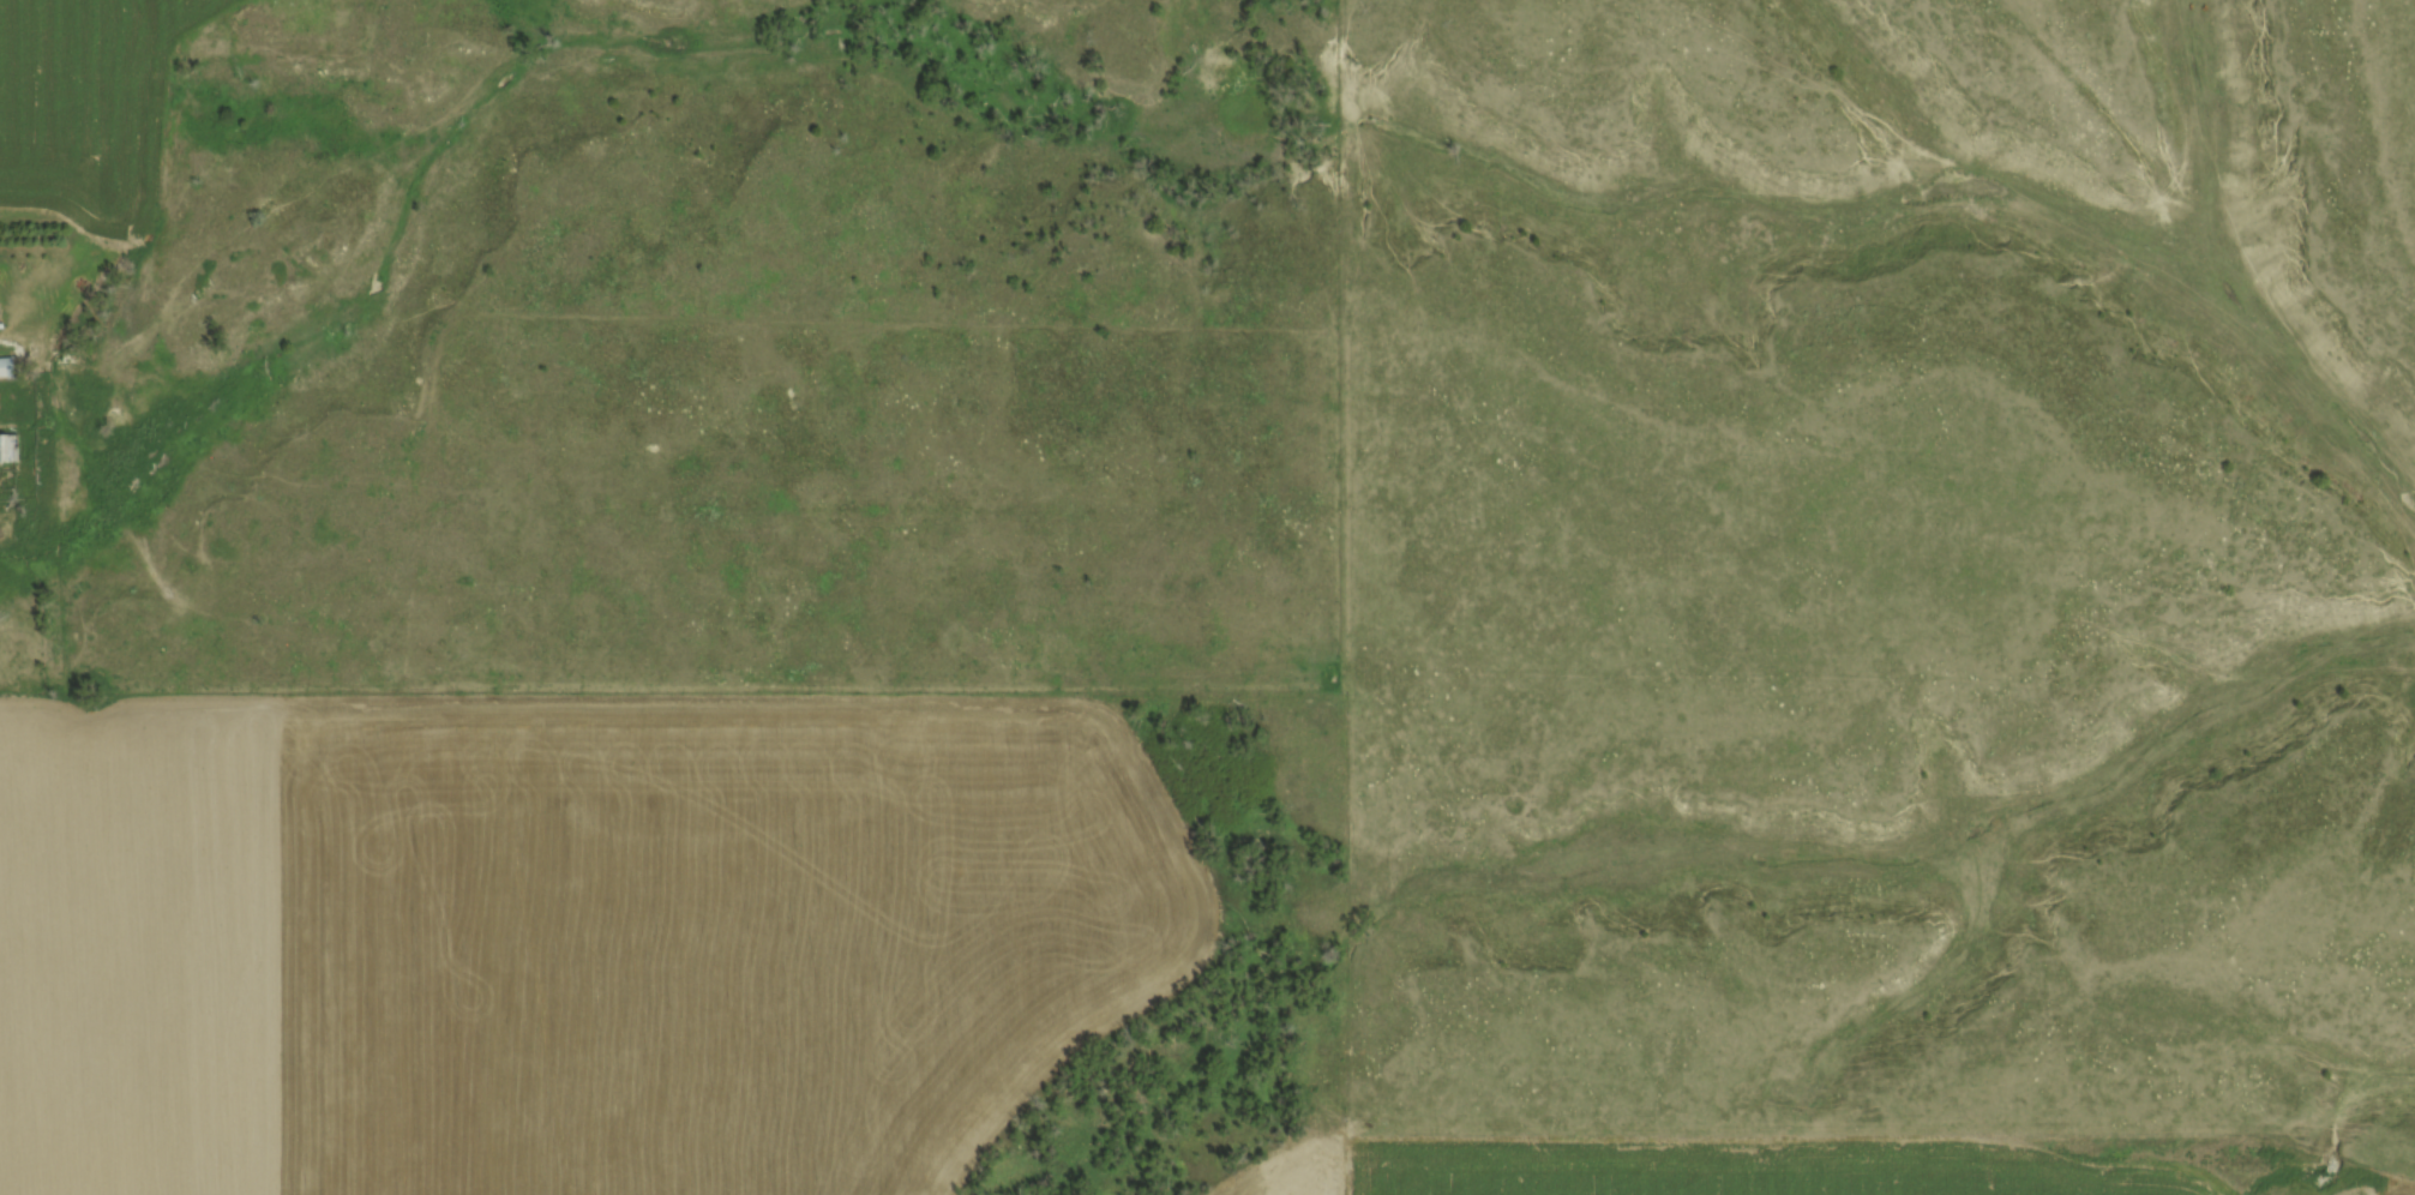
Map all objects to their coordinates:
crop: (82, 107)
building: (1, 365)
building: (11, 446)

